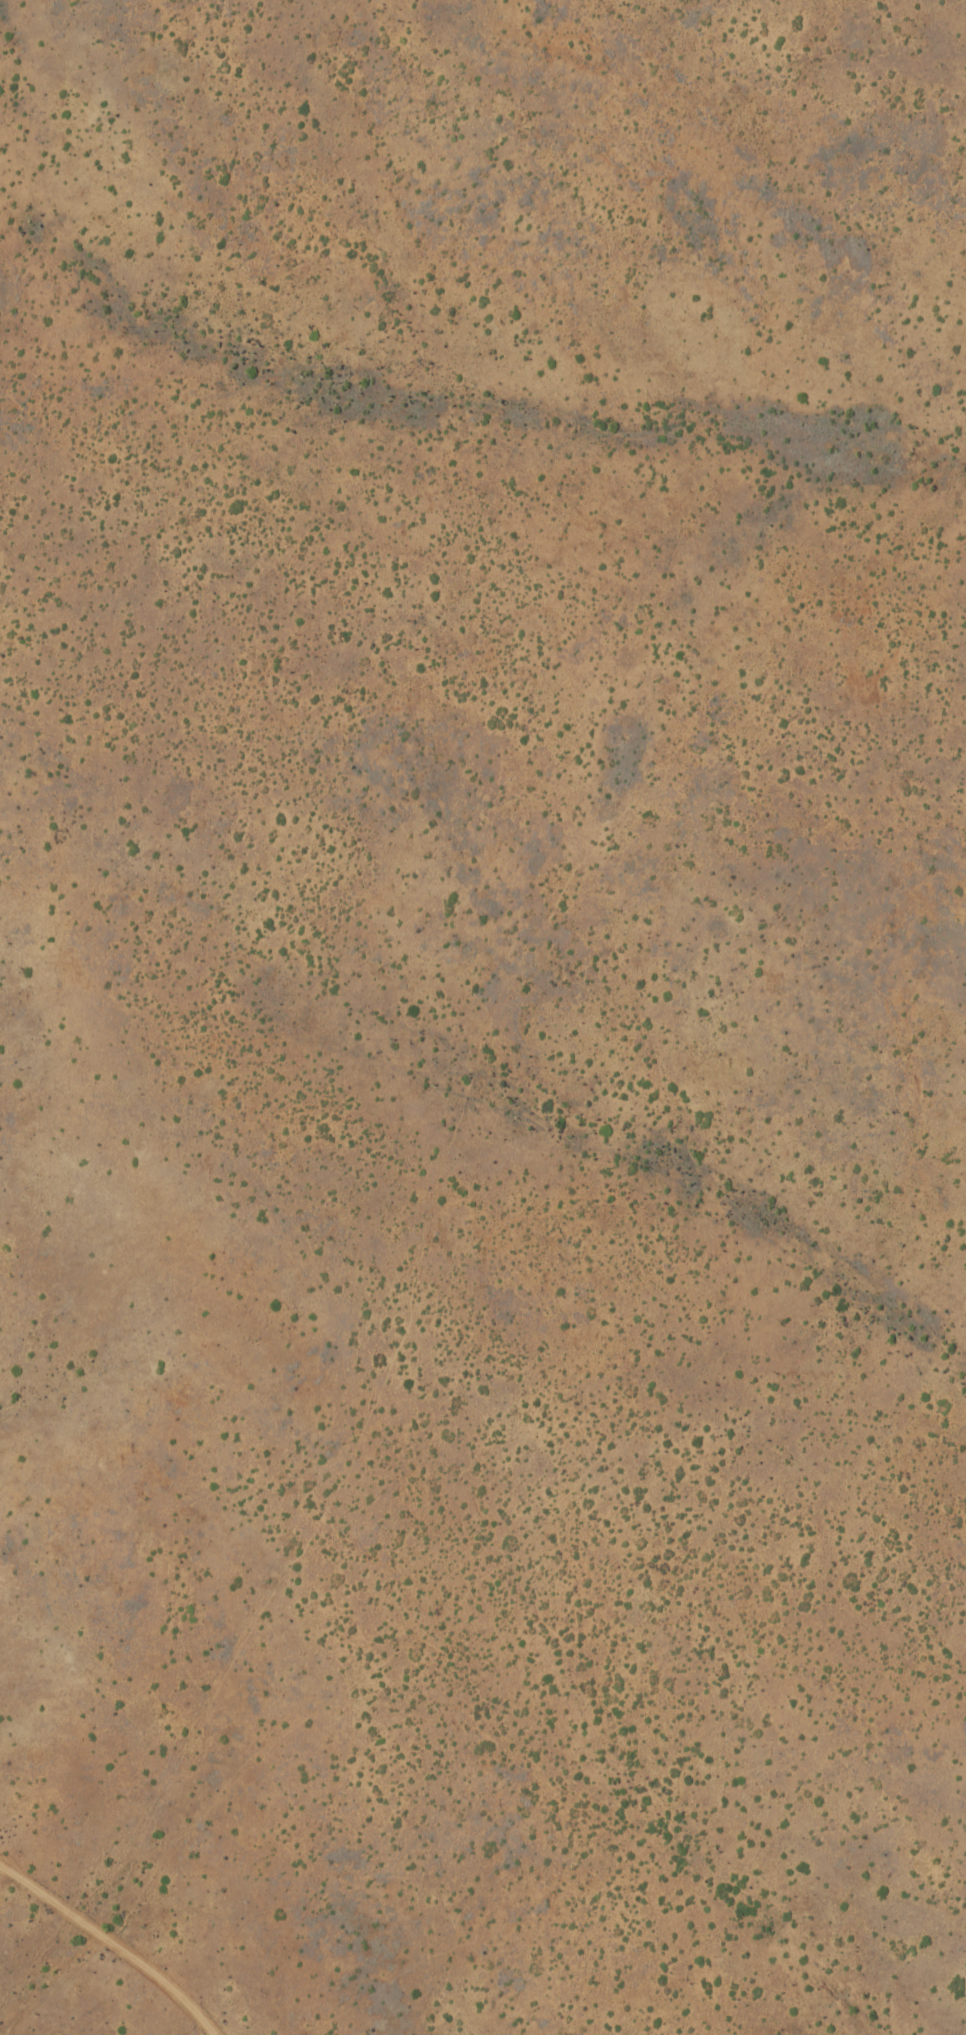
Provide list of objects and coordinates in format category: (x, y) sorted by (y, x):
road: (164, 1946)

